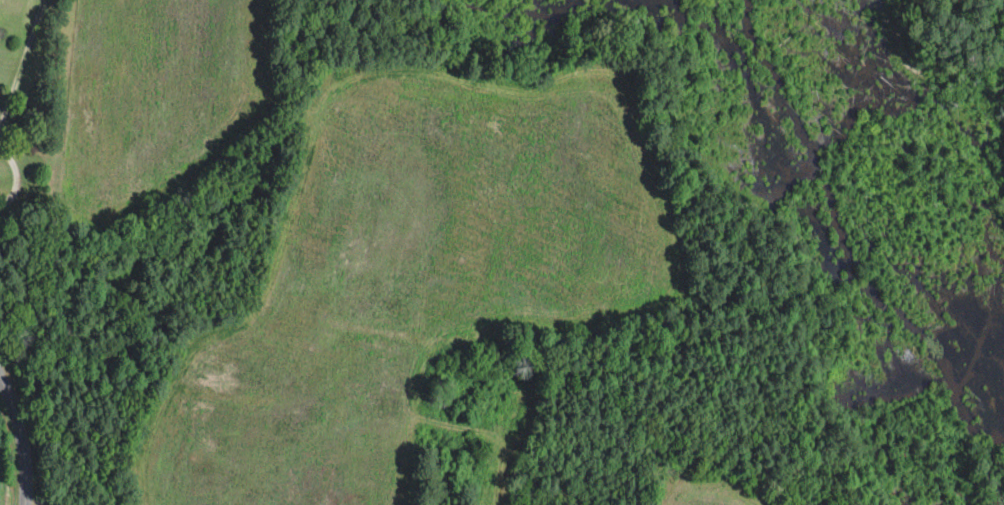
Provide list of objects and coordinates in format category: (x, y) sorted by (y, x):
crop: (16, 11)
road: (21, 64)
crop: (153, 102)
road: (16, 177)
crop: (412, 271)
road: (20, 439)
crop: (499, 450)
crop: (708, 486)
road: (33, 501)

